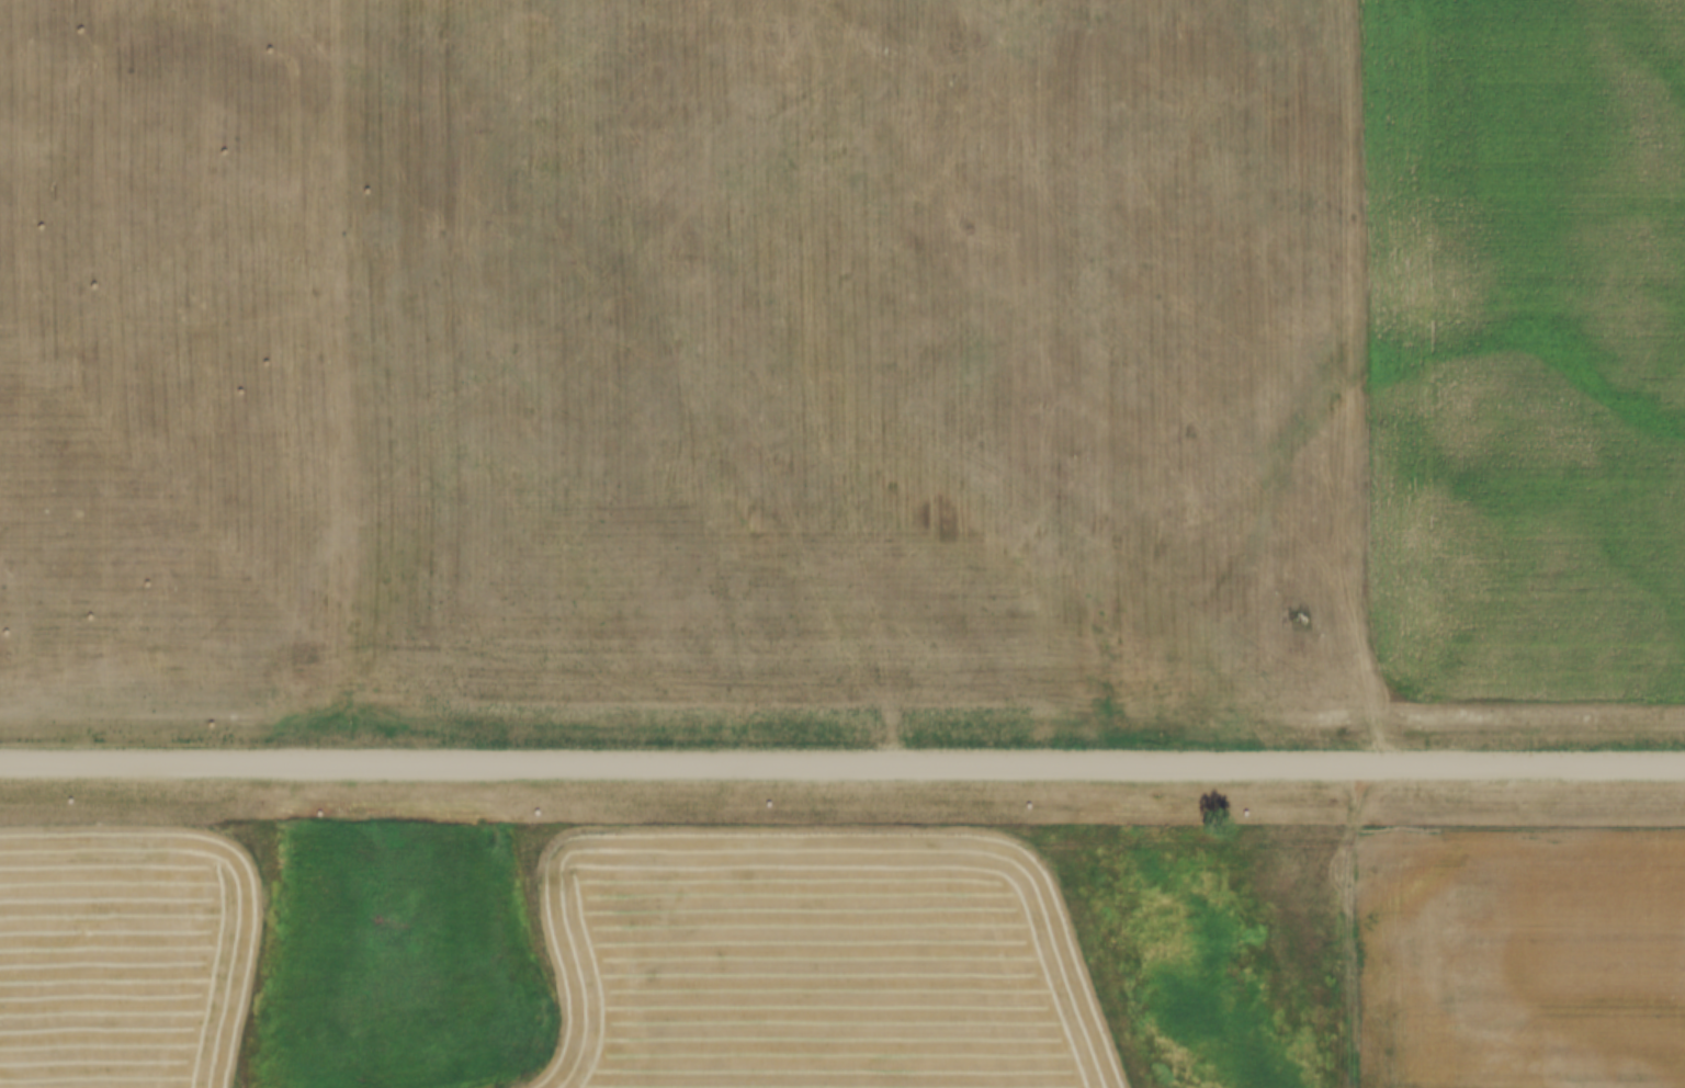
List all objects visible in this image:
road: (1358, 634)
road: (842, 766)
road: (1355, 927)

